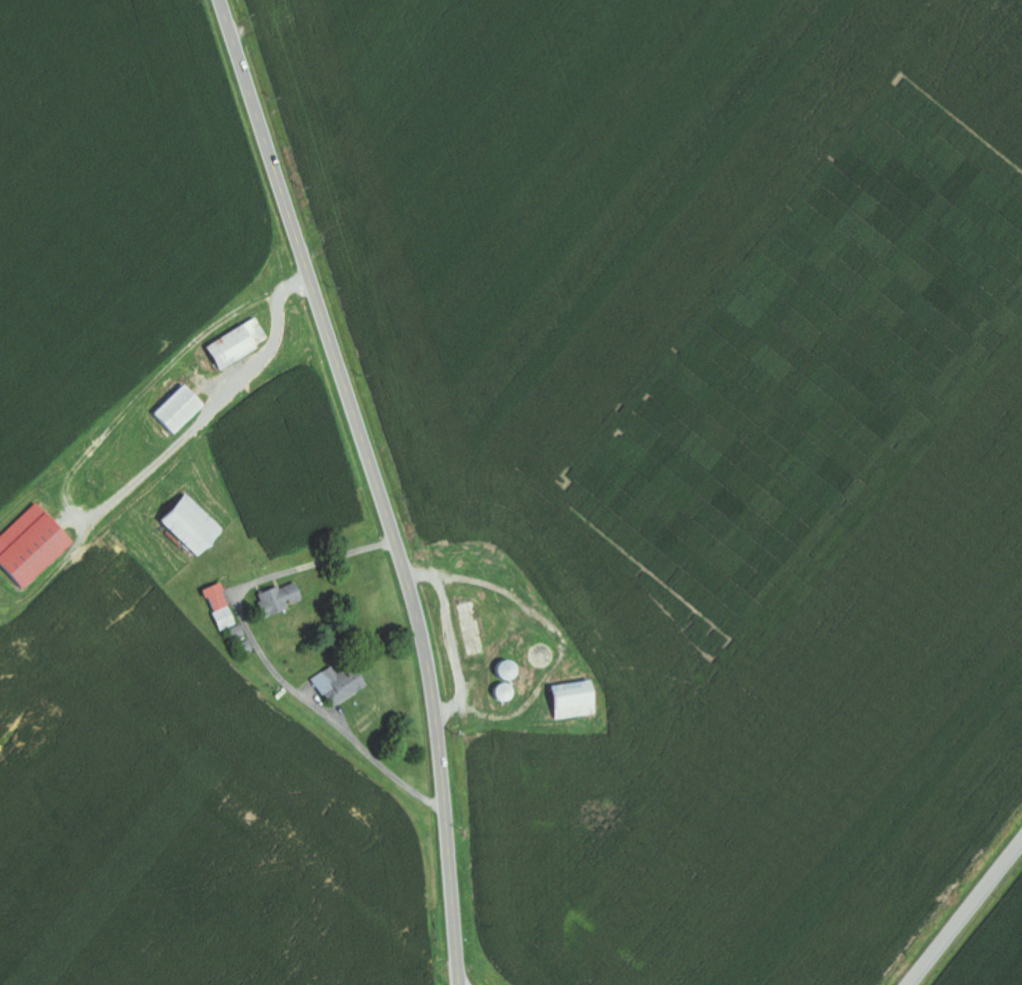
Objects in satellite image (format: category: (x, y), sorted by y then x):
building: (233, 345)
building: (175, 411)
road: (377, 484)
building: (187, 525)
building: (29, 547)
building: (275, 599)
building: (339, 690)
building: (569, 701)
road: (965, 913)

